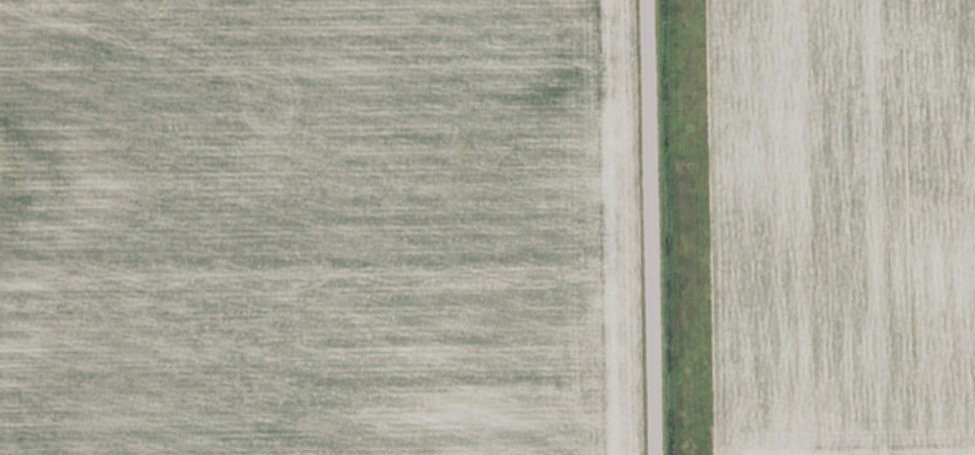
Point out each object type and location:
road: (658, 227)

